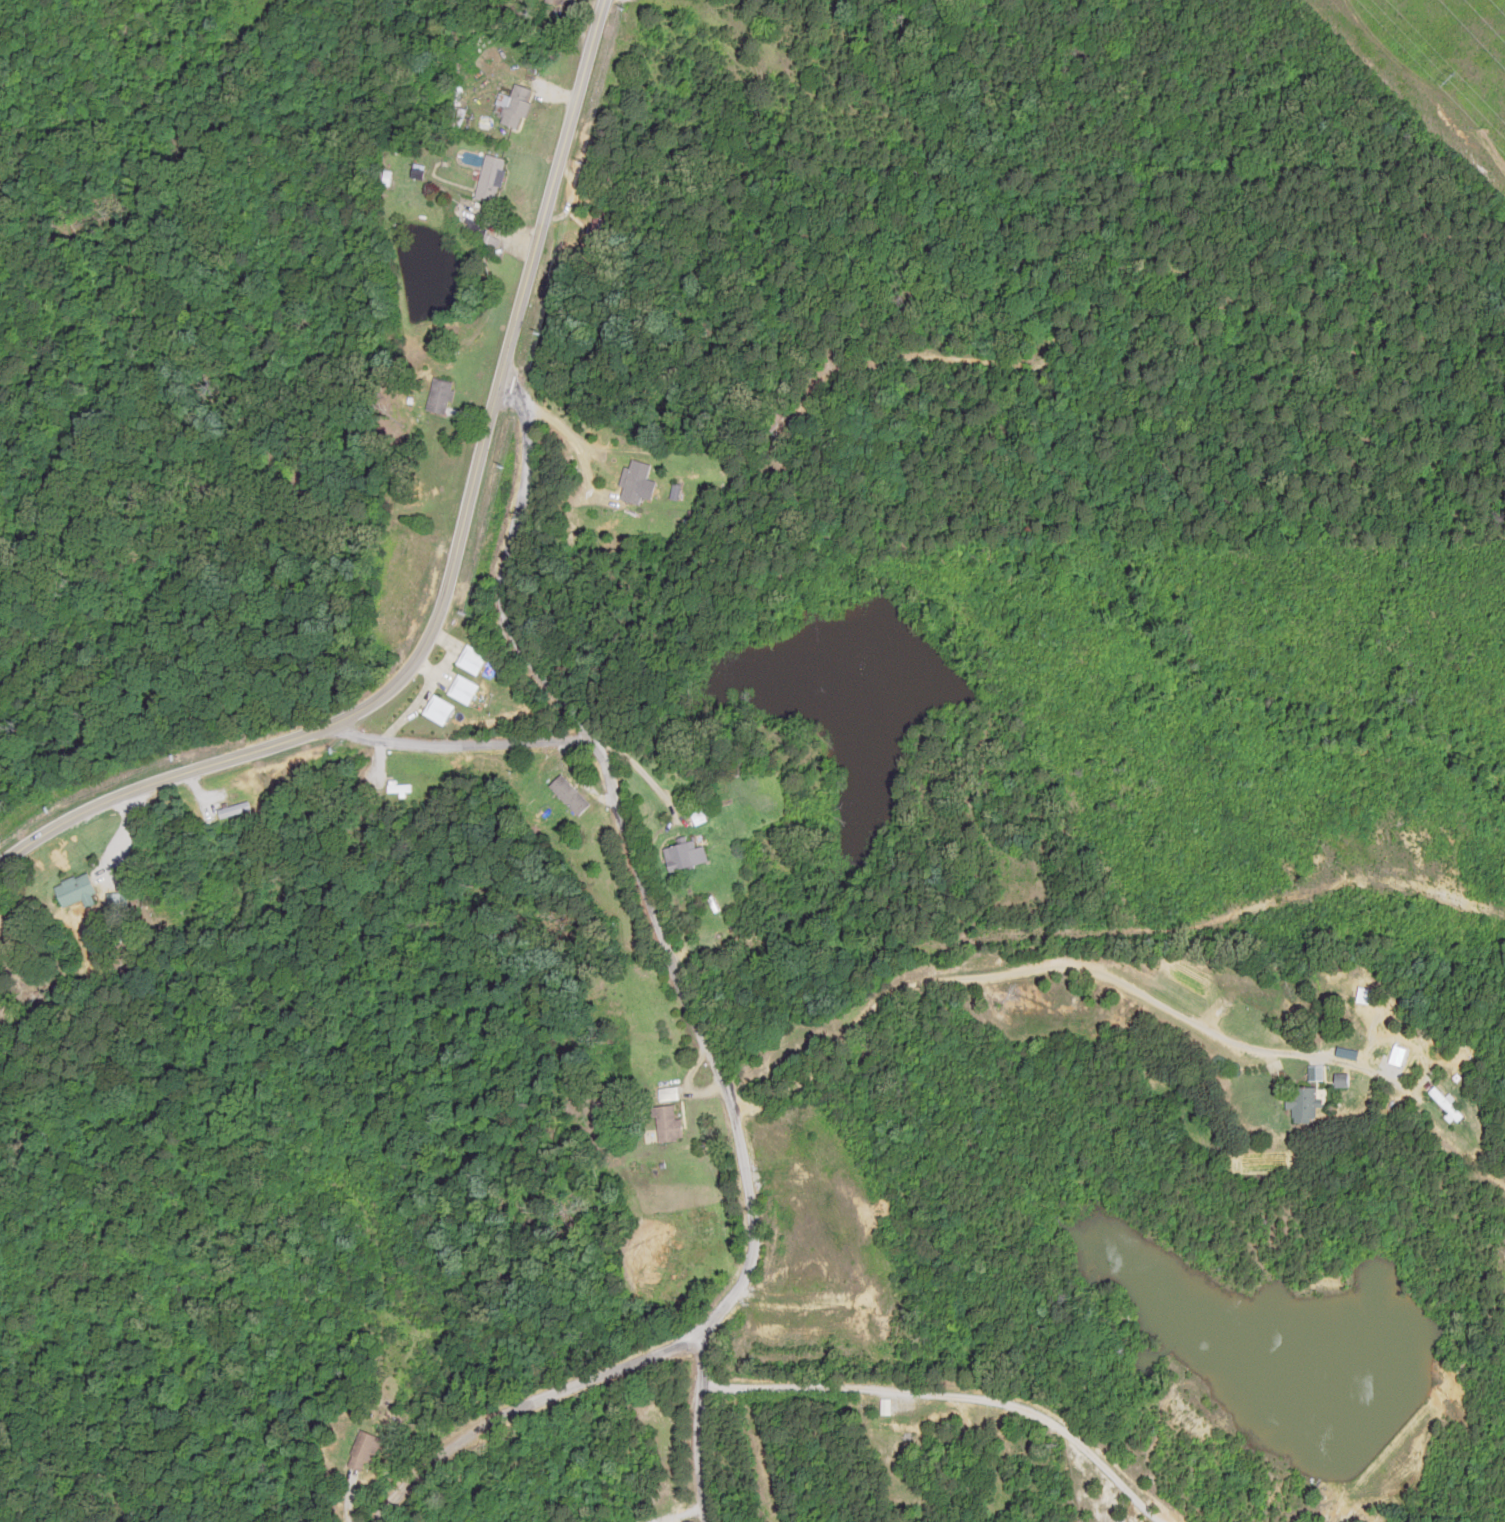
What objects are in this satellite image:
building: (553, 2)
power tower: (1452, 77)
building: (514, 107)
building: (490, 180)
building: (439, 397)
building: (632, 482)
road: (459, 563)
building: (416, 574)
building: (470, 660)
building: (462, 690)
building: (437, 711)
road: (459, 742)
building: (396, 787)
building: (568, 795)
building: (233, 810)
building: (684, 856)
building: (74, 890)
road: (672, 933)
building: (1340, 1080)
building: (1301, 1104)
building: (1444, 1104)
building: (666, 1123)
building: (884, 1406)
building: (898, 1427)
road: (547, 1429)
building: (362, 1451)

